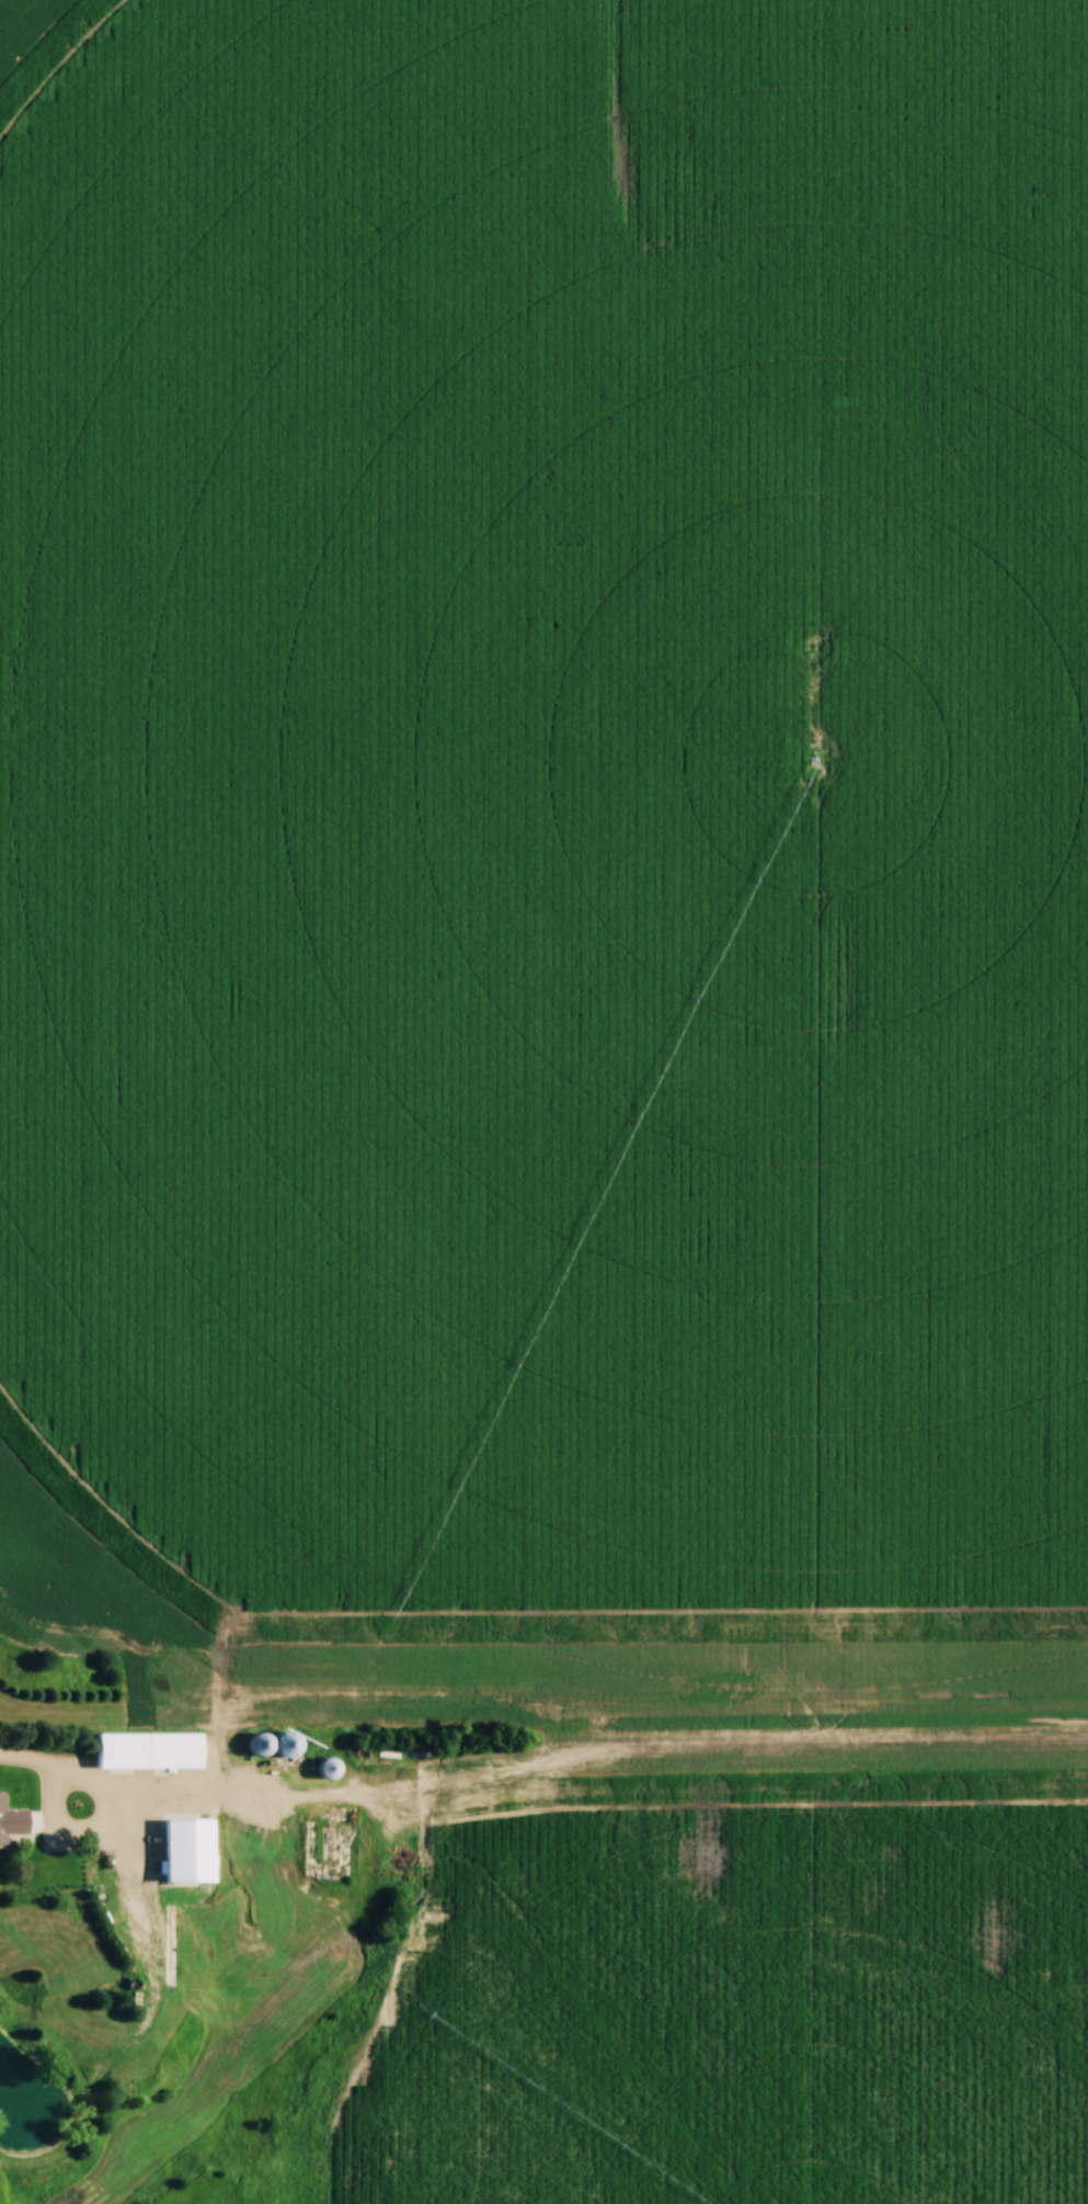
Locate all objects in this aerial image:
building: (267, 1743)
building: (291, 1745)
building: (179, 1748)
building: (125, 1749)
road: (26, 1758)
building: (333, 1769)
road: (87, 1777)
building: (12, 1821)

